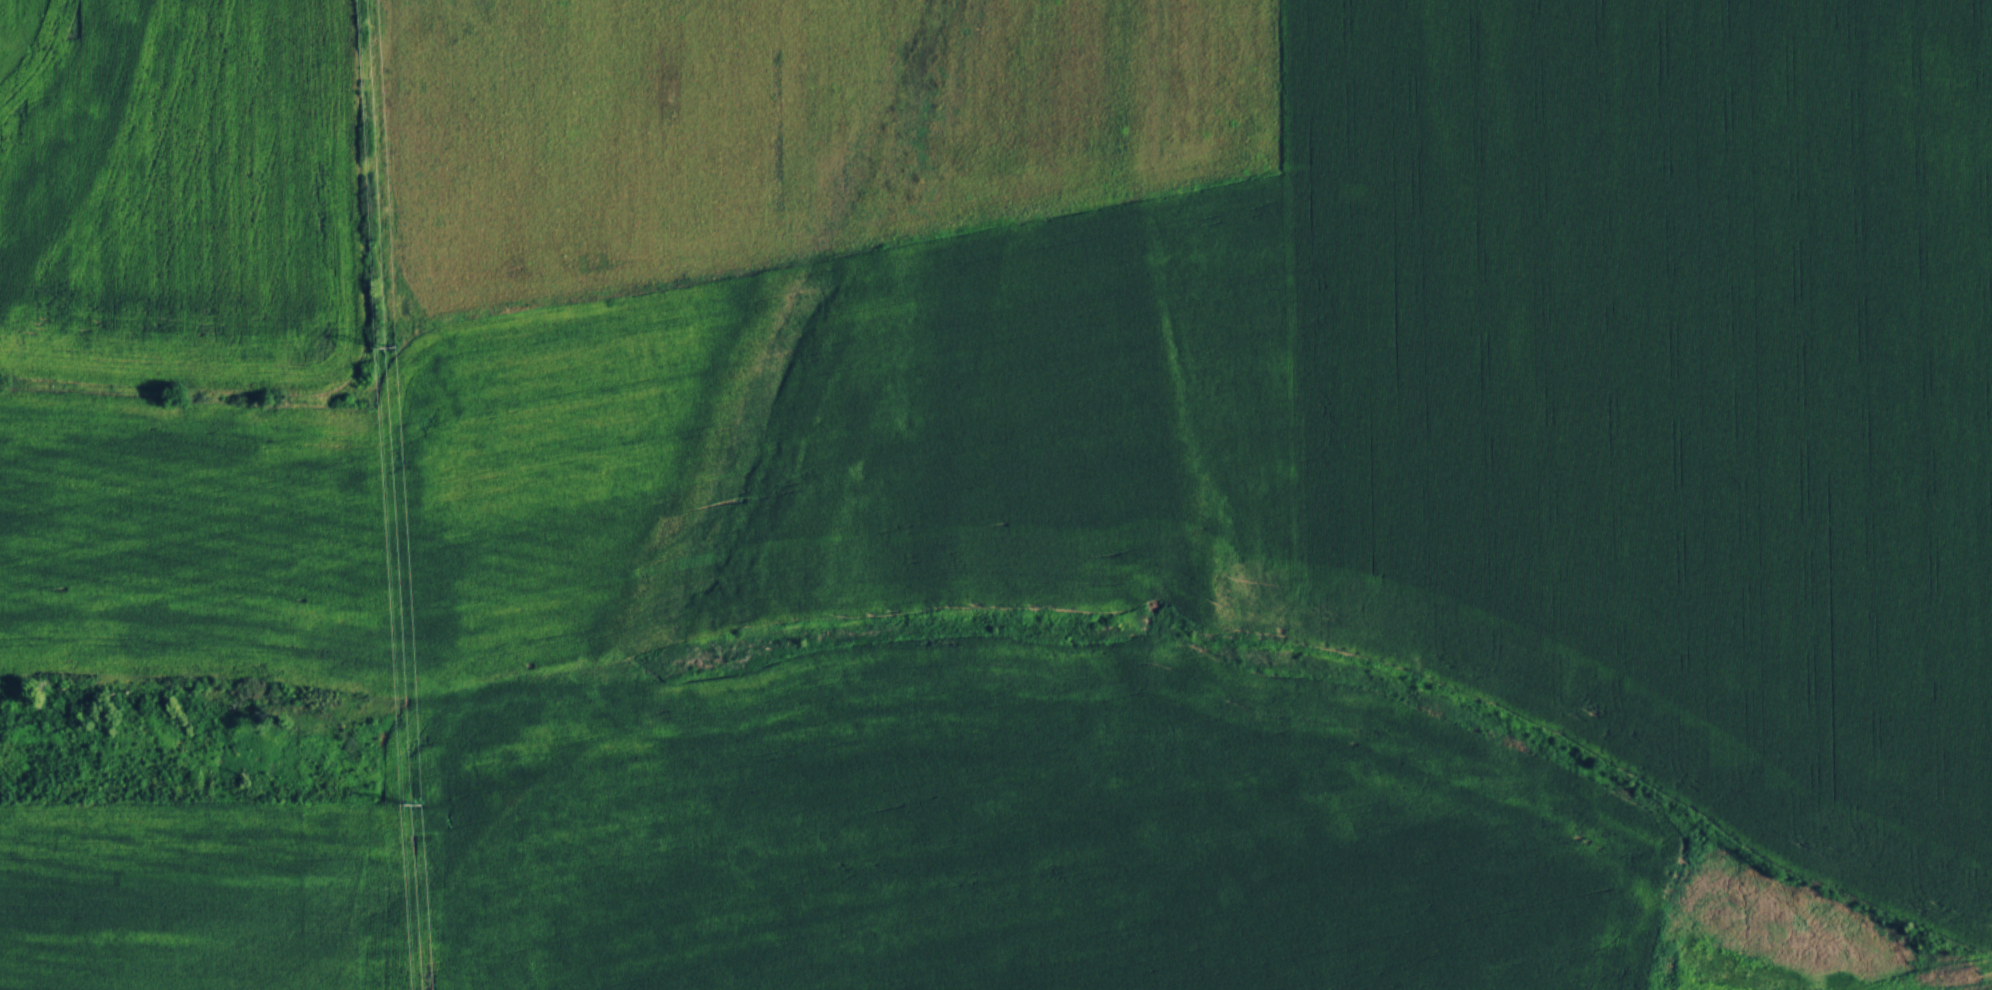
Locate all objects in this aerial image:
power tower: (393, 361)
power tower: (416, 804)

